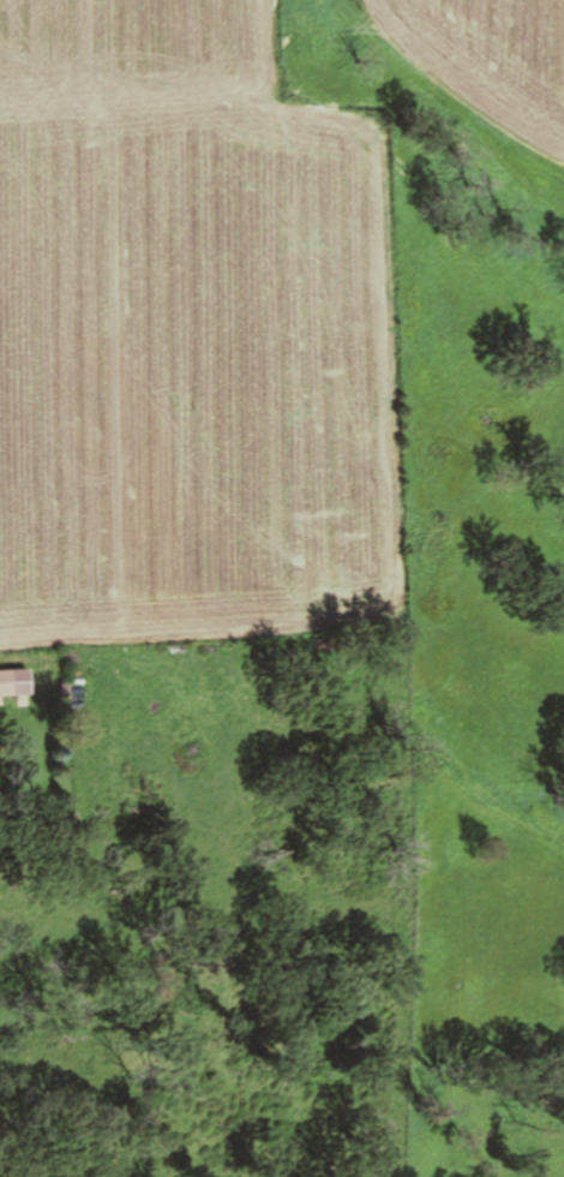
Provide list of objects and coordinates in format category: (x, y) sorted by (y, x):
building: (16, 682)

